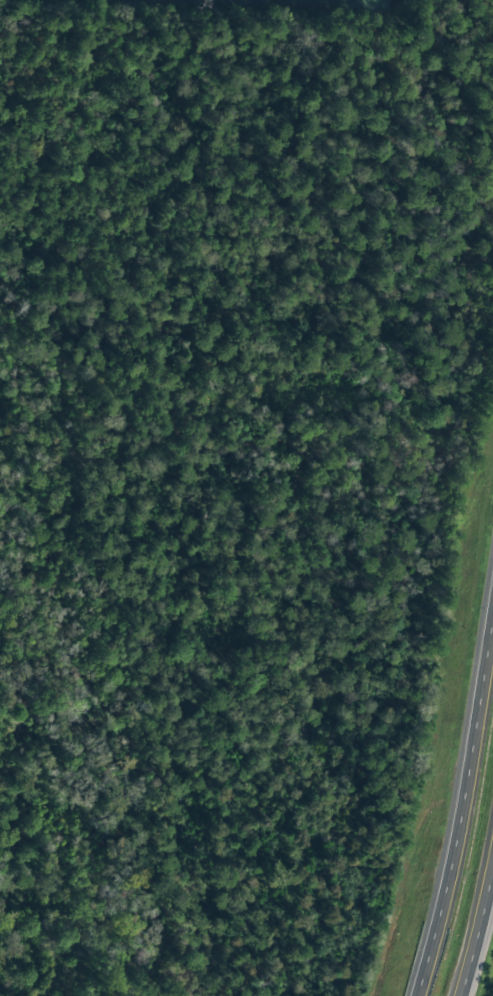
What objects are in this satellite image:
road: (462, 799)
road: (476, 925)

